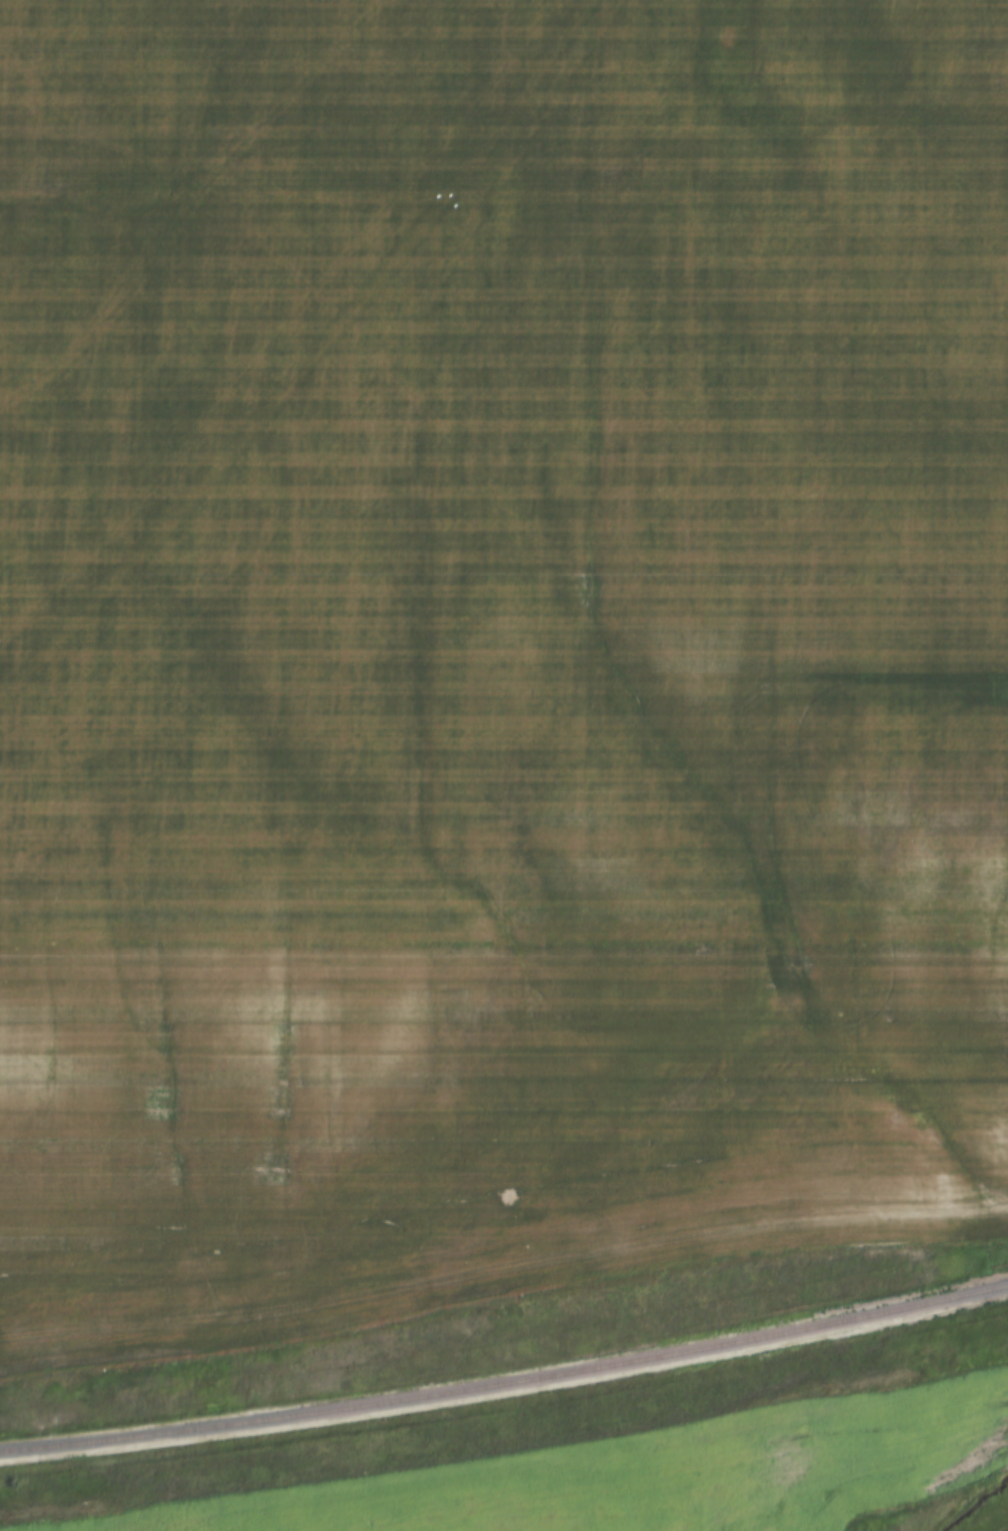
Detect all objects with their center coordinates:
railway: (506, 1379)

